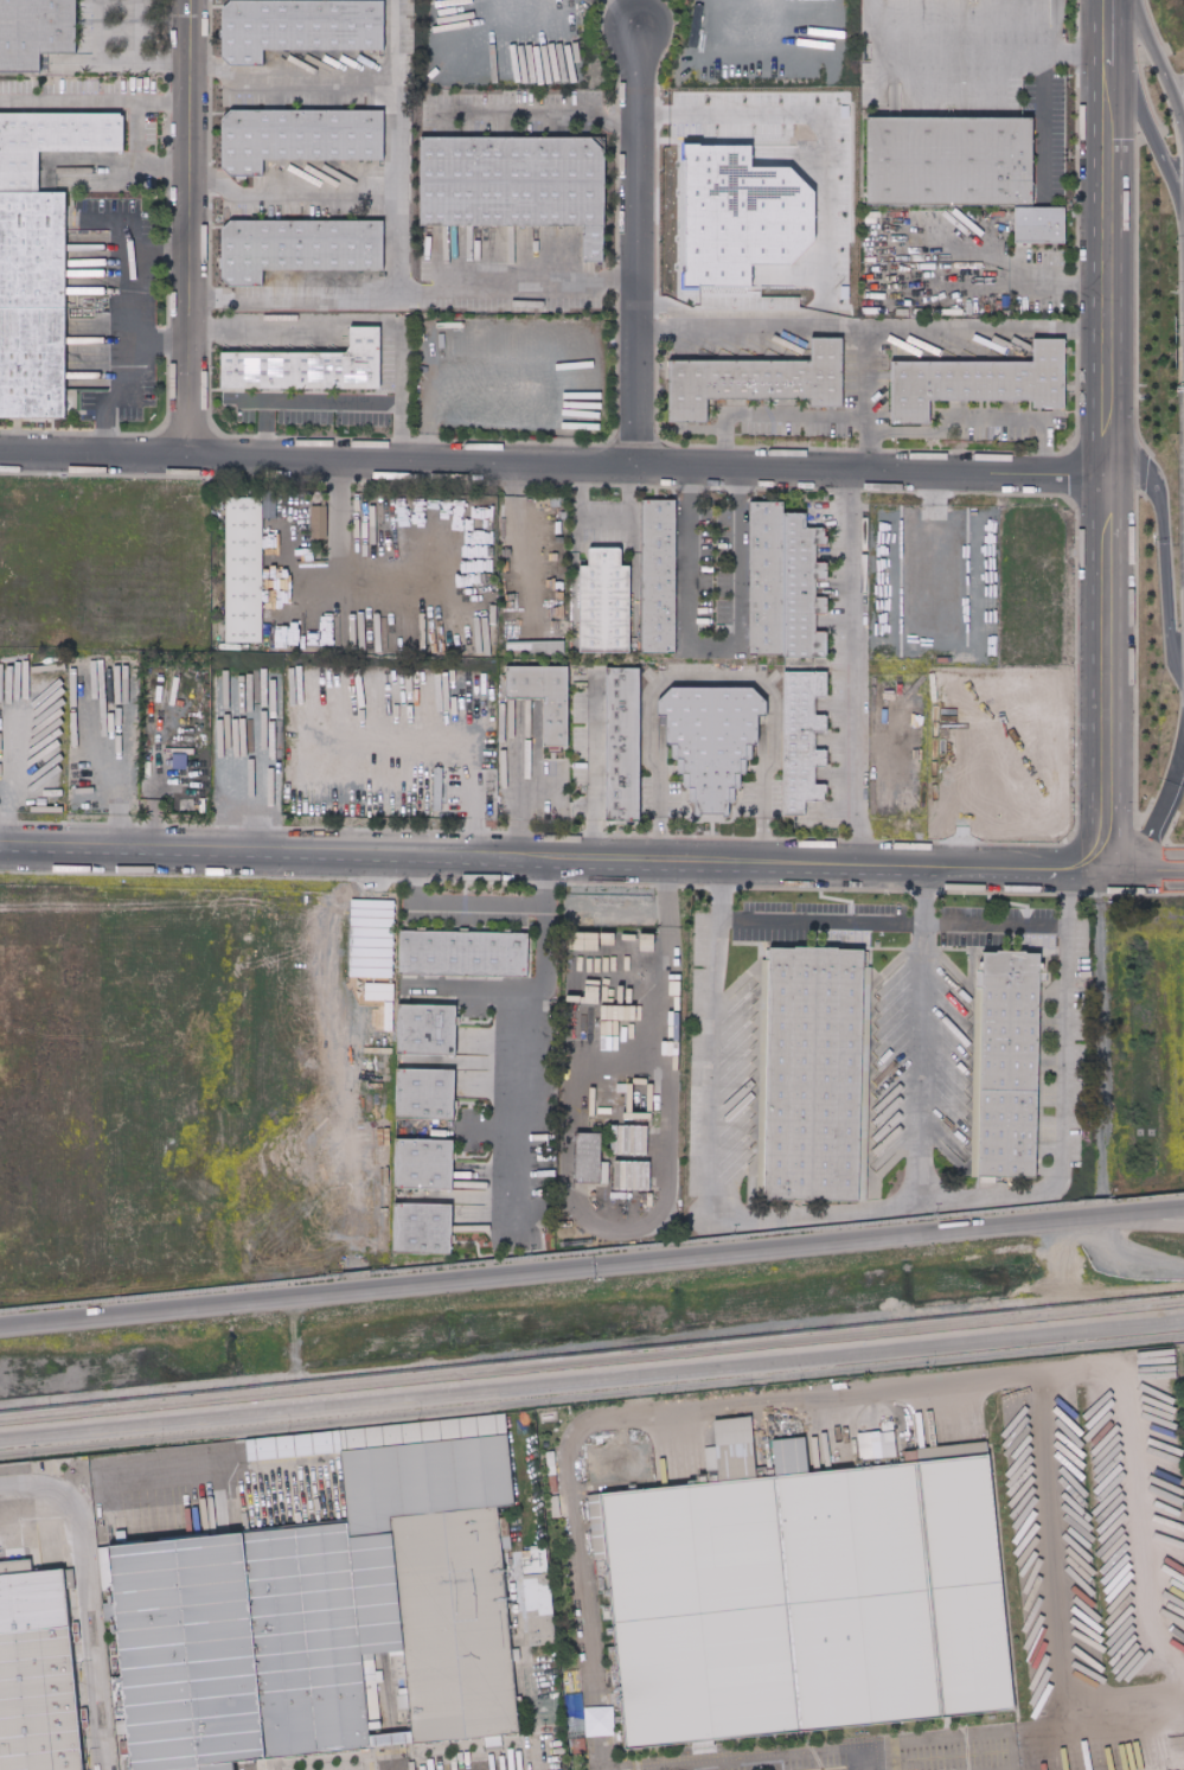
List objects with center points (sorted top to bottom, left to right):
road: (1105, 21)
building: (296, 25)
building: (33, 31)
road: (965, 56)
road: (123, 68)
road: (1158, 70)
road: (301, 84)
road: (121, 101)
road: (164, 103)
road: (818, 124)
road: (1043, 128)
road: (1145, 129)
building: (295, 133)
building: (51, 138)
building: (949, 165)
building: (516, 181)
road: (289, 198)
building: (1038, 225)
road: (192, 228)
road: (633, 243)
building: (295, 248)
building: (31, 250)
road: (134, 253)
road: (393, 253)
road: (1183, 274)
road: (1060, 279)
road: (513, 302)
road: (361, 320)
road: (985, 324)
building: (31, 363)
building: (309, 364)
road: (865, 372)
road: (133, 377)
building: (756, 385)
building: (979, 386)
road: (466, 398)
road: (325, 409)
road: (967, 420)
road: (774, 432)
road: (262, 433)
road: (865, 446)
road: (1105, 456)
road: (552, 464)
building: (320, 522)
road: (601, 522)
road: (516, 536)
road: (1161, 556)
building: (245, 570)
road: (334, 576)
building: (661, 576)
building: (802, 590)
building: (603, 611)
building: (551, 647)
road: (709, 648)
road: (850, 669)
road: (709, 679)
building: (548, 698)
building: (626, 745)
building: (801, 763)
building: (711, 765)
road: (589, 777)
road: (15, 784)
road: (518, 801)
road: (1160, 805)
road: (273, 855)
road: (568, 861)
road: (845, 865)
road: (1144, 871)
road: (545, 883)
road: (459, 902)
road: (890, 921)
road: (658, 947)
building: (466, 952)
building: (430, 1028)
building: (1011, 1063)
road: (517, 1065)
building: (813, 1074)
building: (429, 1092)
road: (705, 1142)
building: (590, 1159)
building: (427, 1162)
building: (628, 1174)
road: (975, 1193)
road: (572, 1208)
building: (425, 1227)
road: (591, 1267)
road: (591, 1290)
road: (591, 1342)
road: (591, 1380)
road: (823, 1393)
building: (885, 1426)
building: (732, 1431)
building: (888, 1436)
building: (293, 1444)
building: (239, 1449)
building: (710, 1461)
building: (550, 1463)
building: (552, 1483)
building: (412, 1501)
building: (553, 1506)
building: (596, 1527)
building: (525, 1554)
building: (538, 1559)
building: (14, 1566)
building: (526, 1566)
building: (601, 1566)
building: (68, 1578)
building: (539, 1578)
building: (70, 1591)
building: (604, 1593)
road: (87, 1597)
building: (536, 1597)
building: (808, 1598)
building: (111, 1611)
building: (607, 1612)
building: (455, 1618)
building: (539, 1628)
building: (609, 1630)
building: (238, 1640)
building: (612, 1640)
building: (396, 1653)
building: (396, 1667)
building: (613, 1675)
building: (378, 1676)
building: (37, 1679)
building: (404, 1682)
building: (570, 1683)
building: (402, 1691)
building: (389, 1700)
building: (402, 1701)
road: (1141, 1701)
building: (407, 1711)
building: (373, 1724)
building: (389, 1739)
building: (492, 1740)
building: (570, 1742)
road: (872, 1743)
building: (577, 1745)
building: (702, 1745)
road: (1010, 1752)
road: (885, 1755)
road: (858, 1757)
road: (530, 1758)
road: (689, 1764)
road: (889, 1769)

